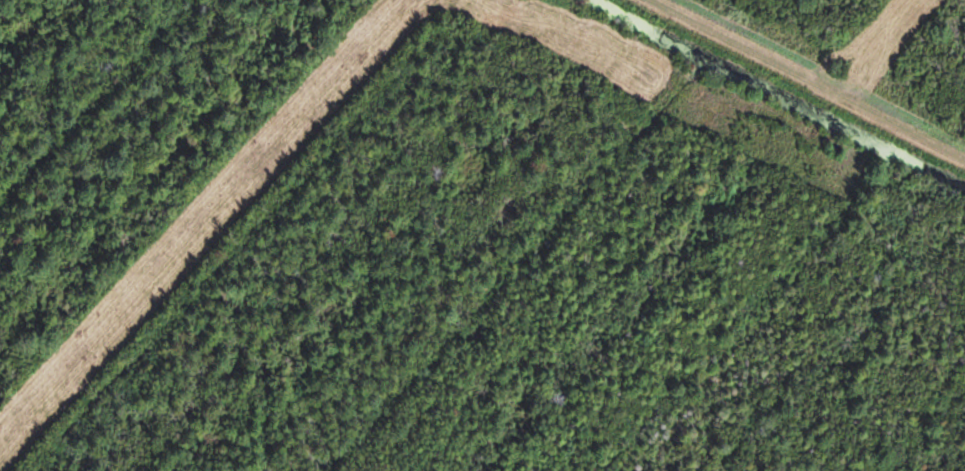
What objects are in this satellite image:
road: (812, 76)

